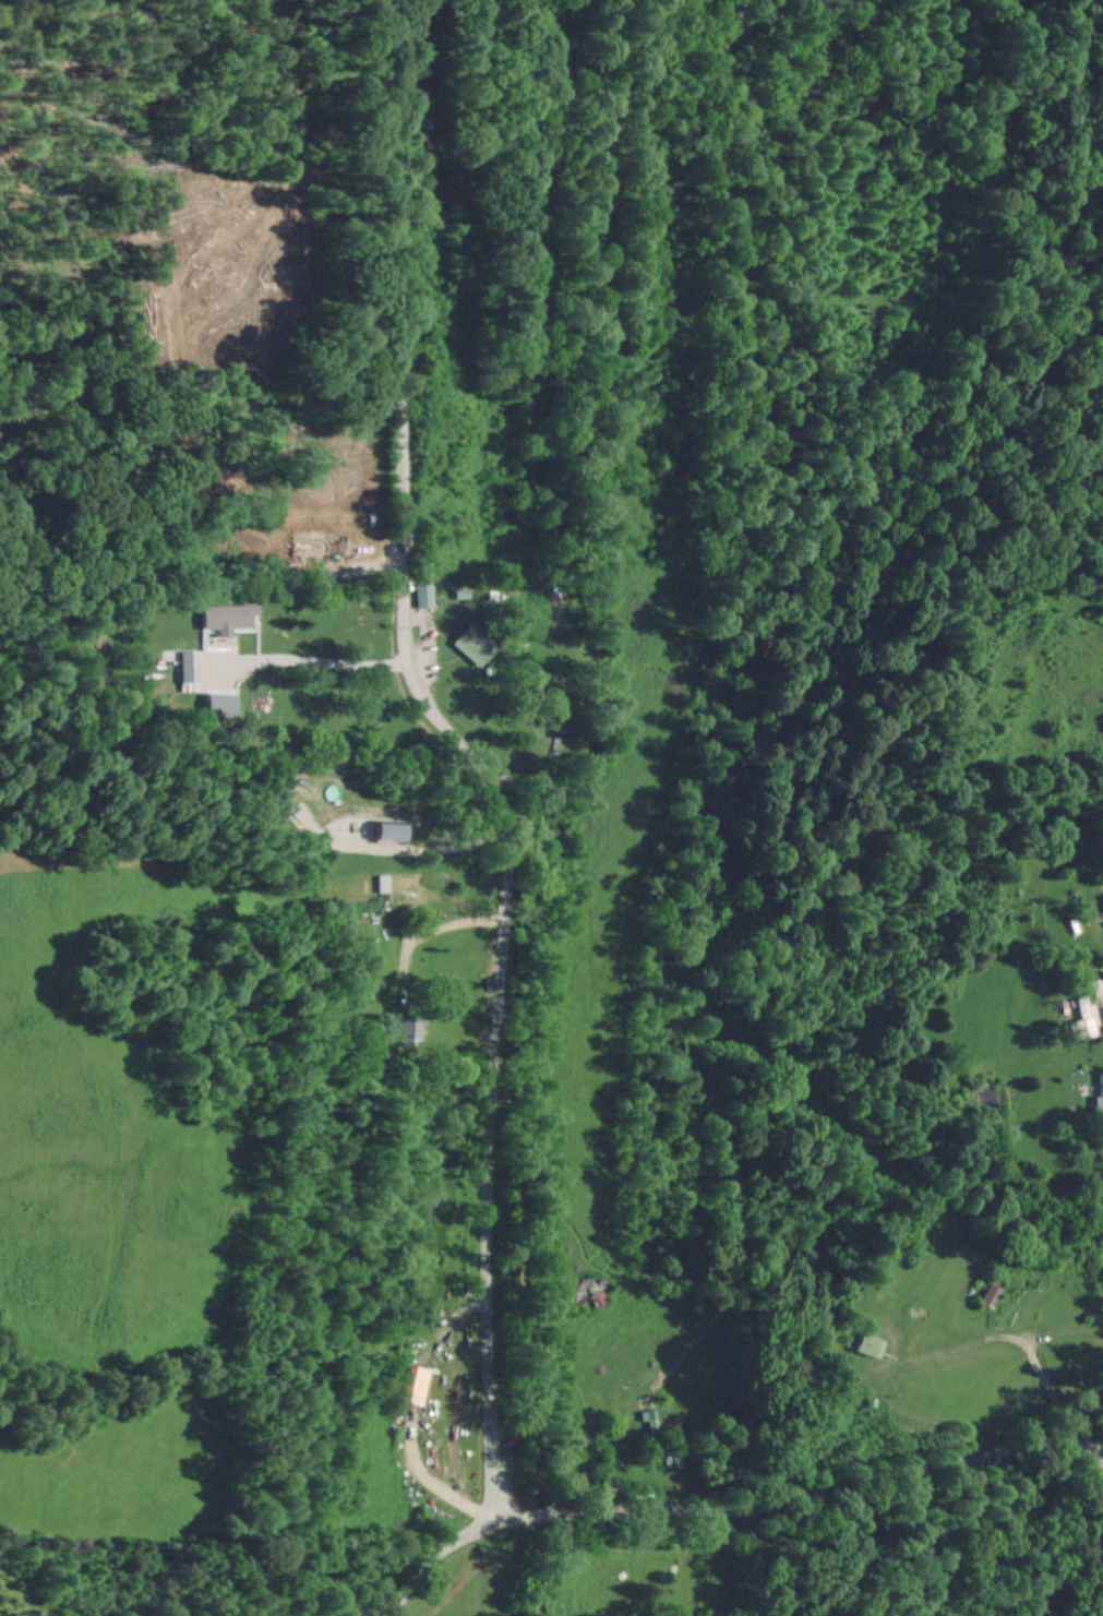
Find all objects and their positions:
road: (400, 441)
building: (422, 594)
building: (473, 643)
road: (316, 665)
building: (188, 666)
building: (248, 716)
building: (345, 822)
road: (520, 852)
road: (412, 857)
building: (1082, 1019)
building: (409, 1028)
building: (1101, 1091)
road: (485, 1185)
building: (986, 1290)
building: (591, 1294)
building: (867, 1344)
road: (1053, 1393)
road: (802, 1491)
road: (433, 1555)

